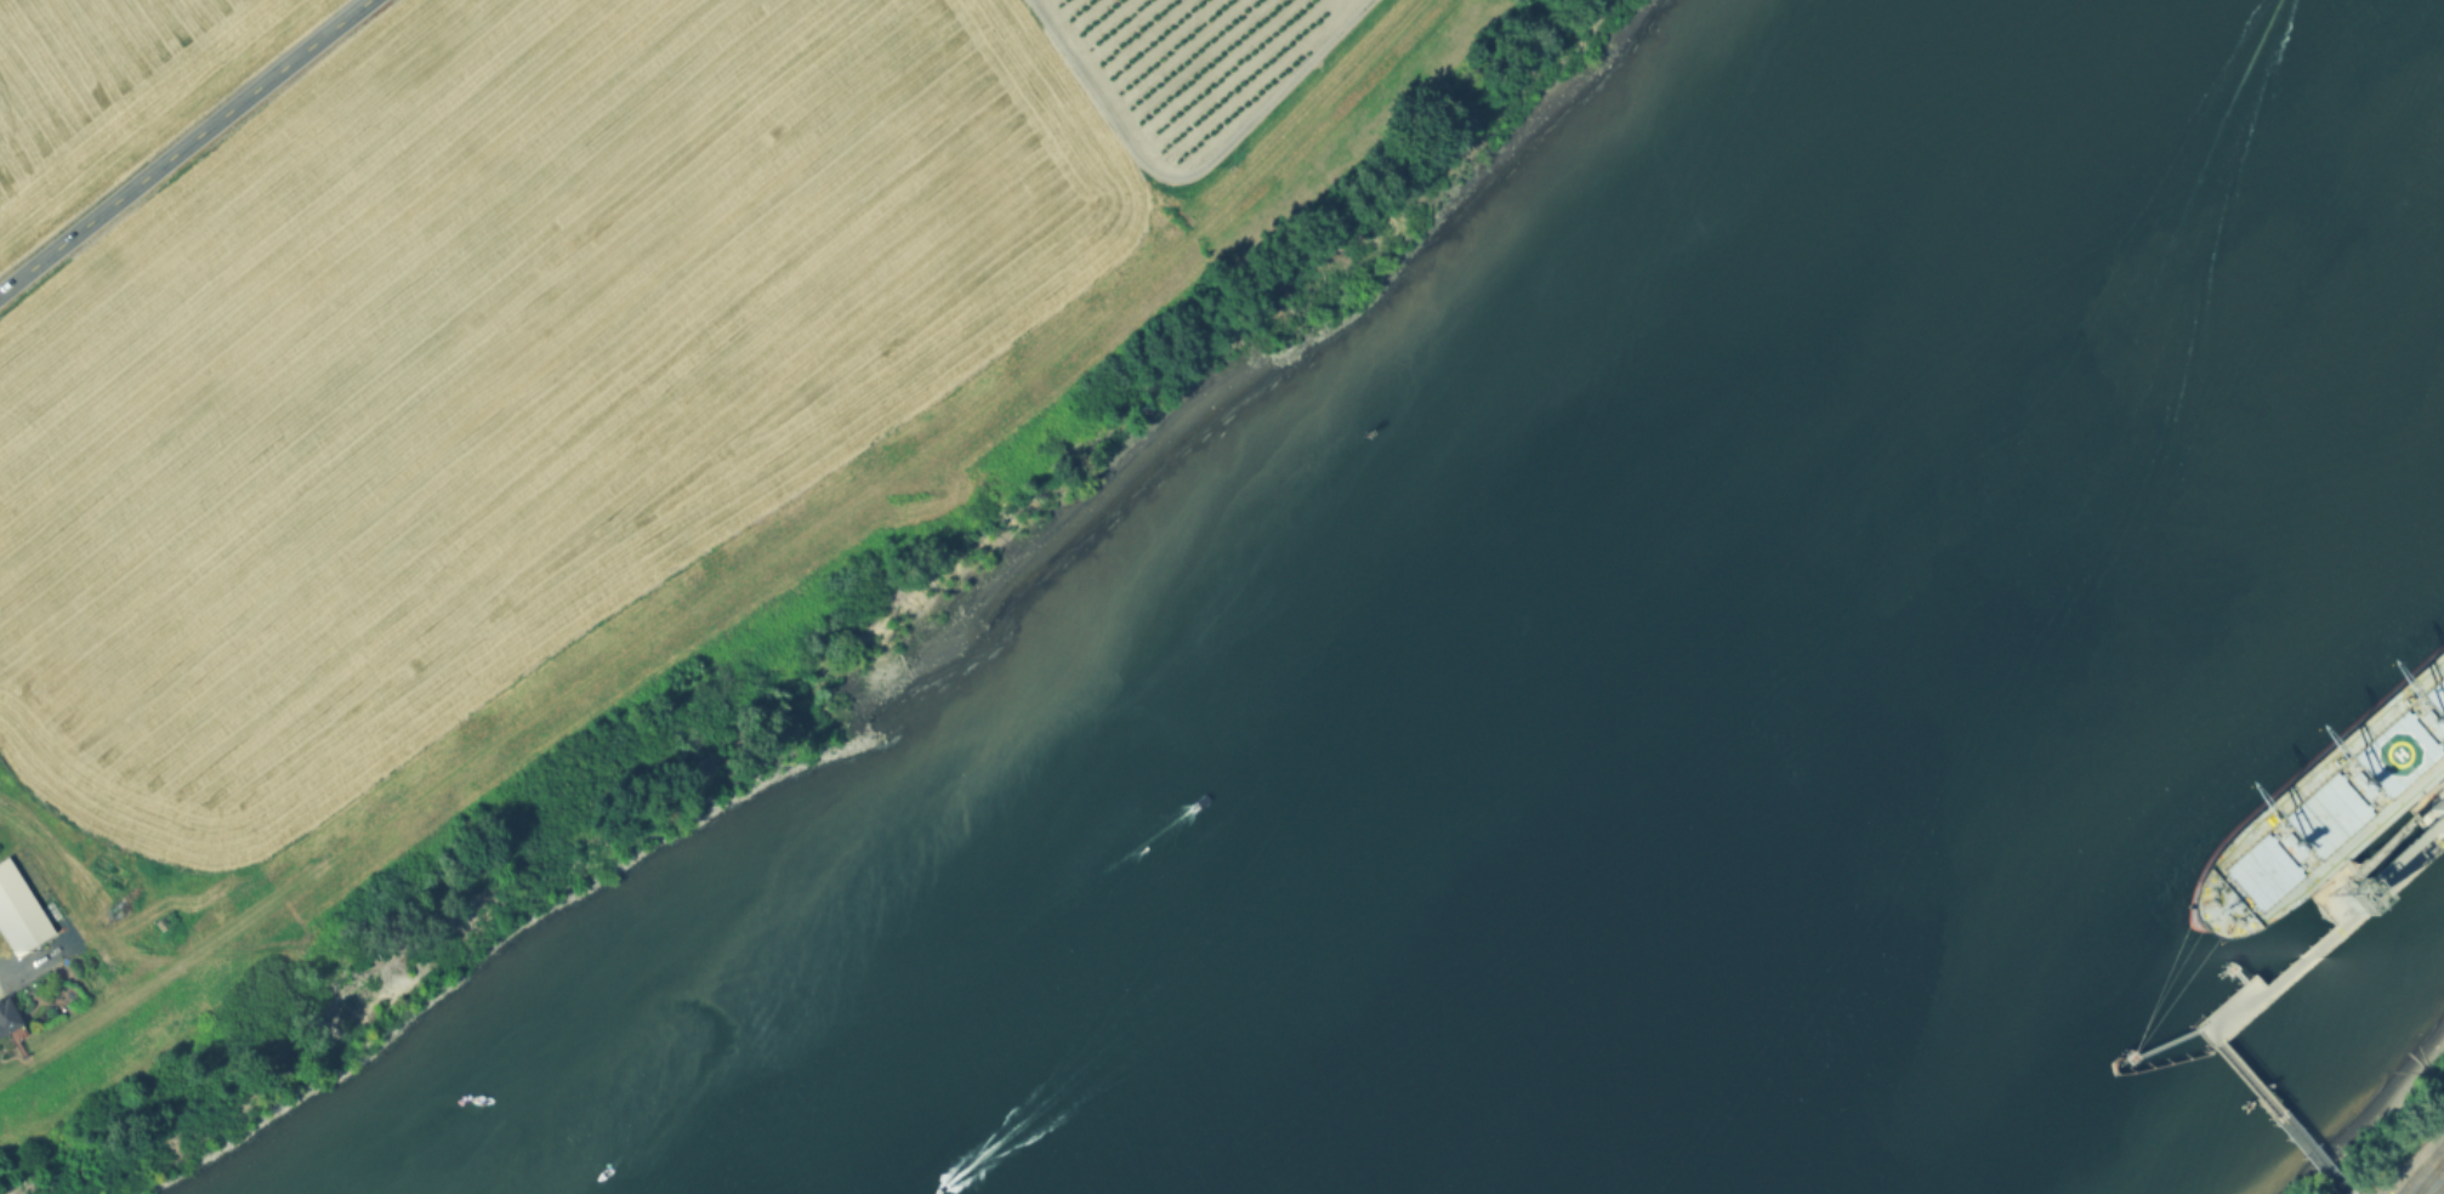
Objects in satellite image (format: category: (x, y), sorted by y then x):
crop: (1188, 58)
crop: (116, 92)
road: (184, 146)
road: (1188, 176)
crop: (490, 368)
river: (1834, 599)
pier: (2393, 817)
building: (19, 910)
building: (166, 920)
pier: (2312, 949)
pier: (2230, 974)
building: (7, 1016)
pier: (2161, 1053)
pier: (2278, 1118)
railway: (2442, 1162)
railway: (2420, 1166)
railway: (2429, 1176)
railway: (2438, 1188)

